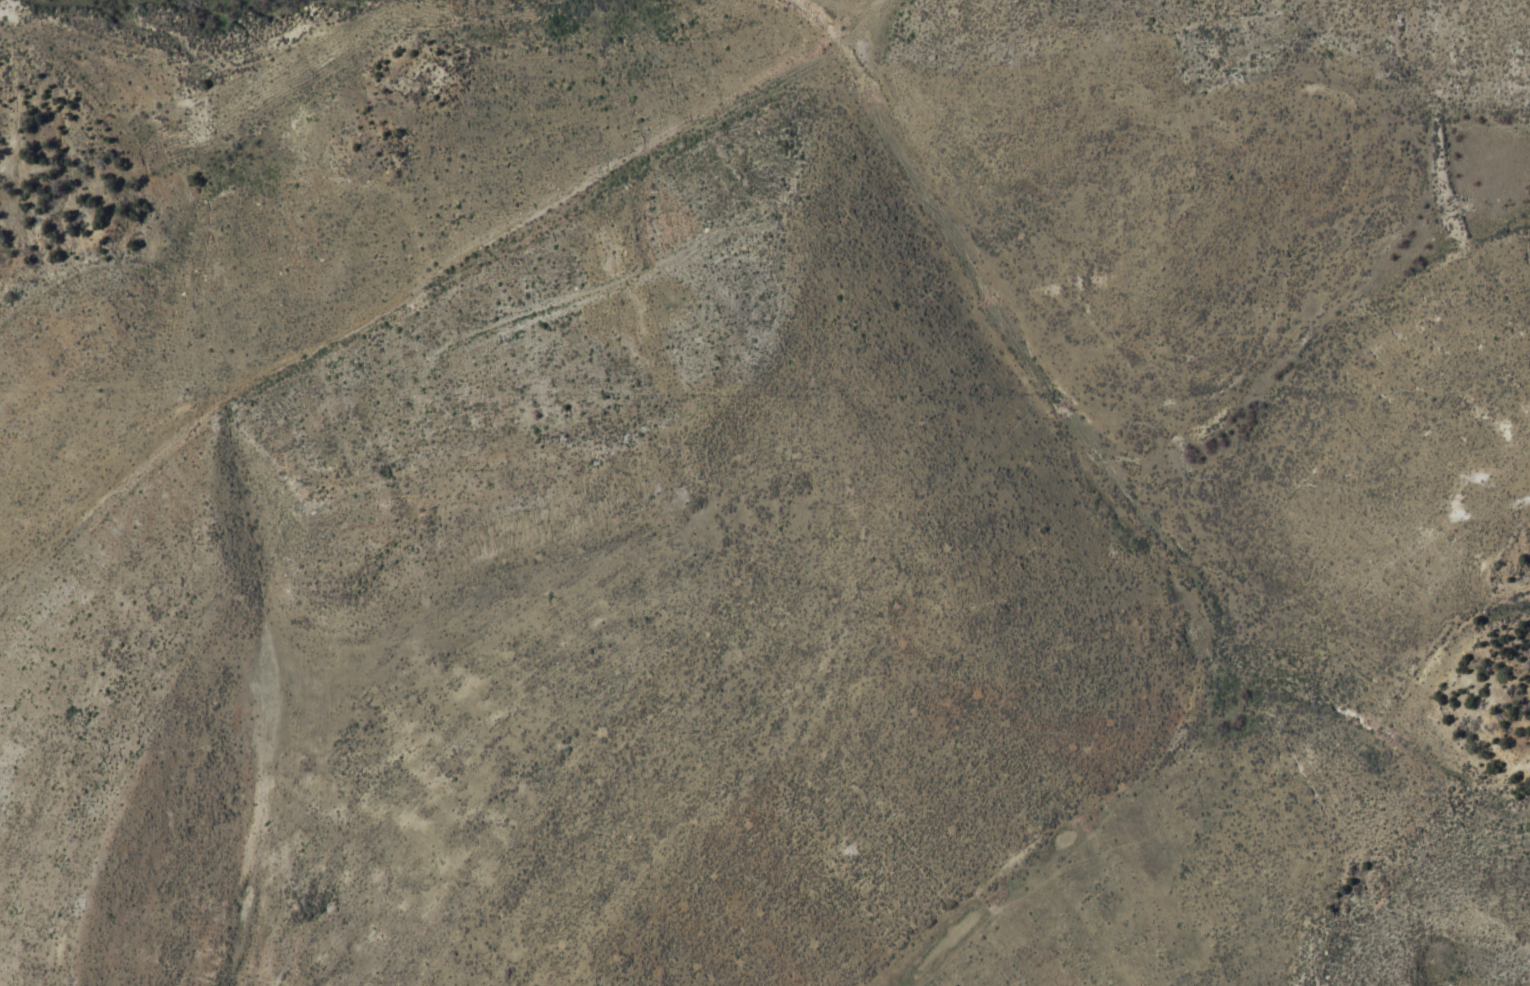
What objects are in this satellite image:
road: (863, 15)
road: (440, 266)

